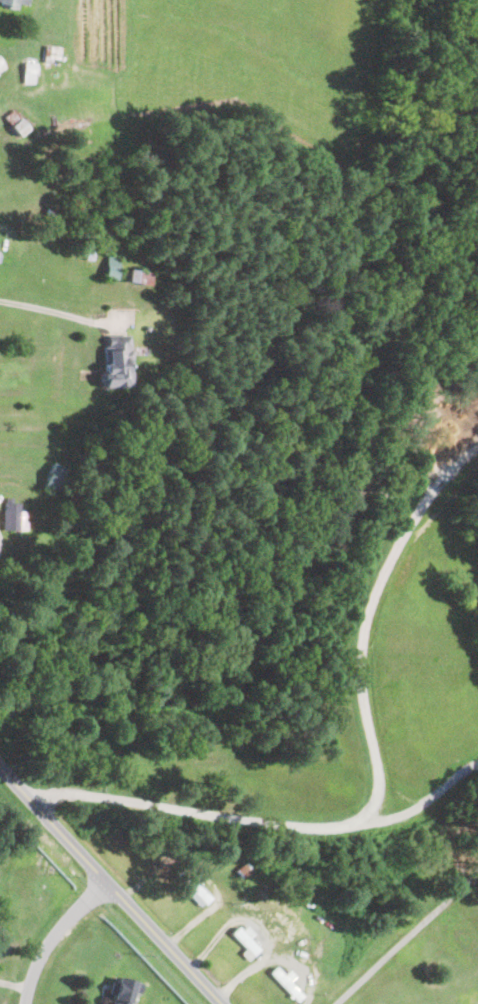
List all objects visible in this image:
building: (14, 4)
building: (51, 54)
building: (3, 66)
building: (30, 71)
building: (17, 124)
building: (52, 213)
road: (2, 226)
building: (90, 253)
building: (112, 267)
building: (140, 278)
road: (47, 310)
building: (116, 363)
building: (54, 478)
building: (14, 517)
road: (371, 604)
road: (425, 802)
road: (210, 814)
building: (244, 871)
road: (111, 885)
building: (195, 888)
road: (54, 935)
road: (406, 939)
building: (246, 942)
building: (287, 984)
building: (124, 990)

